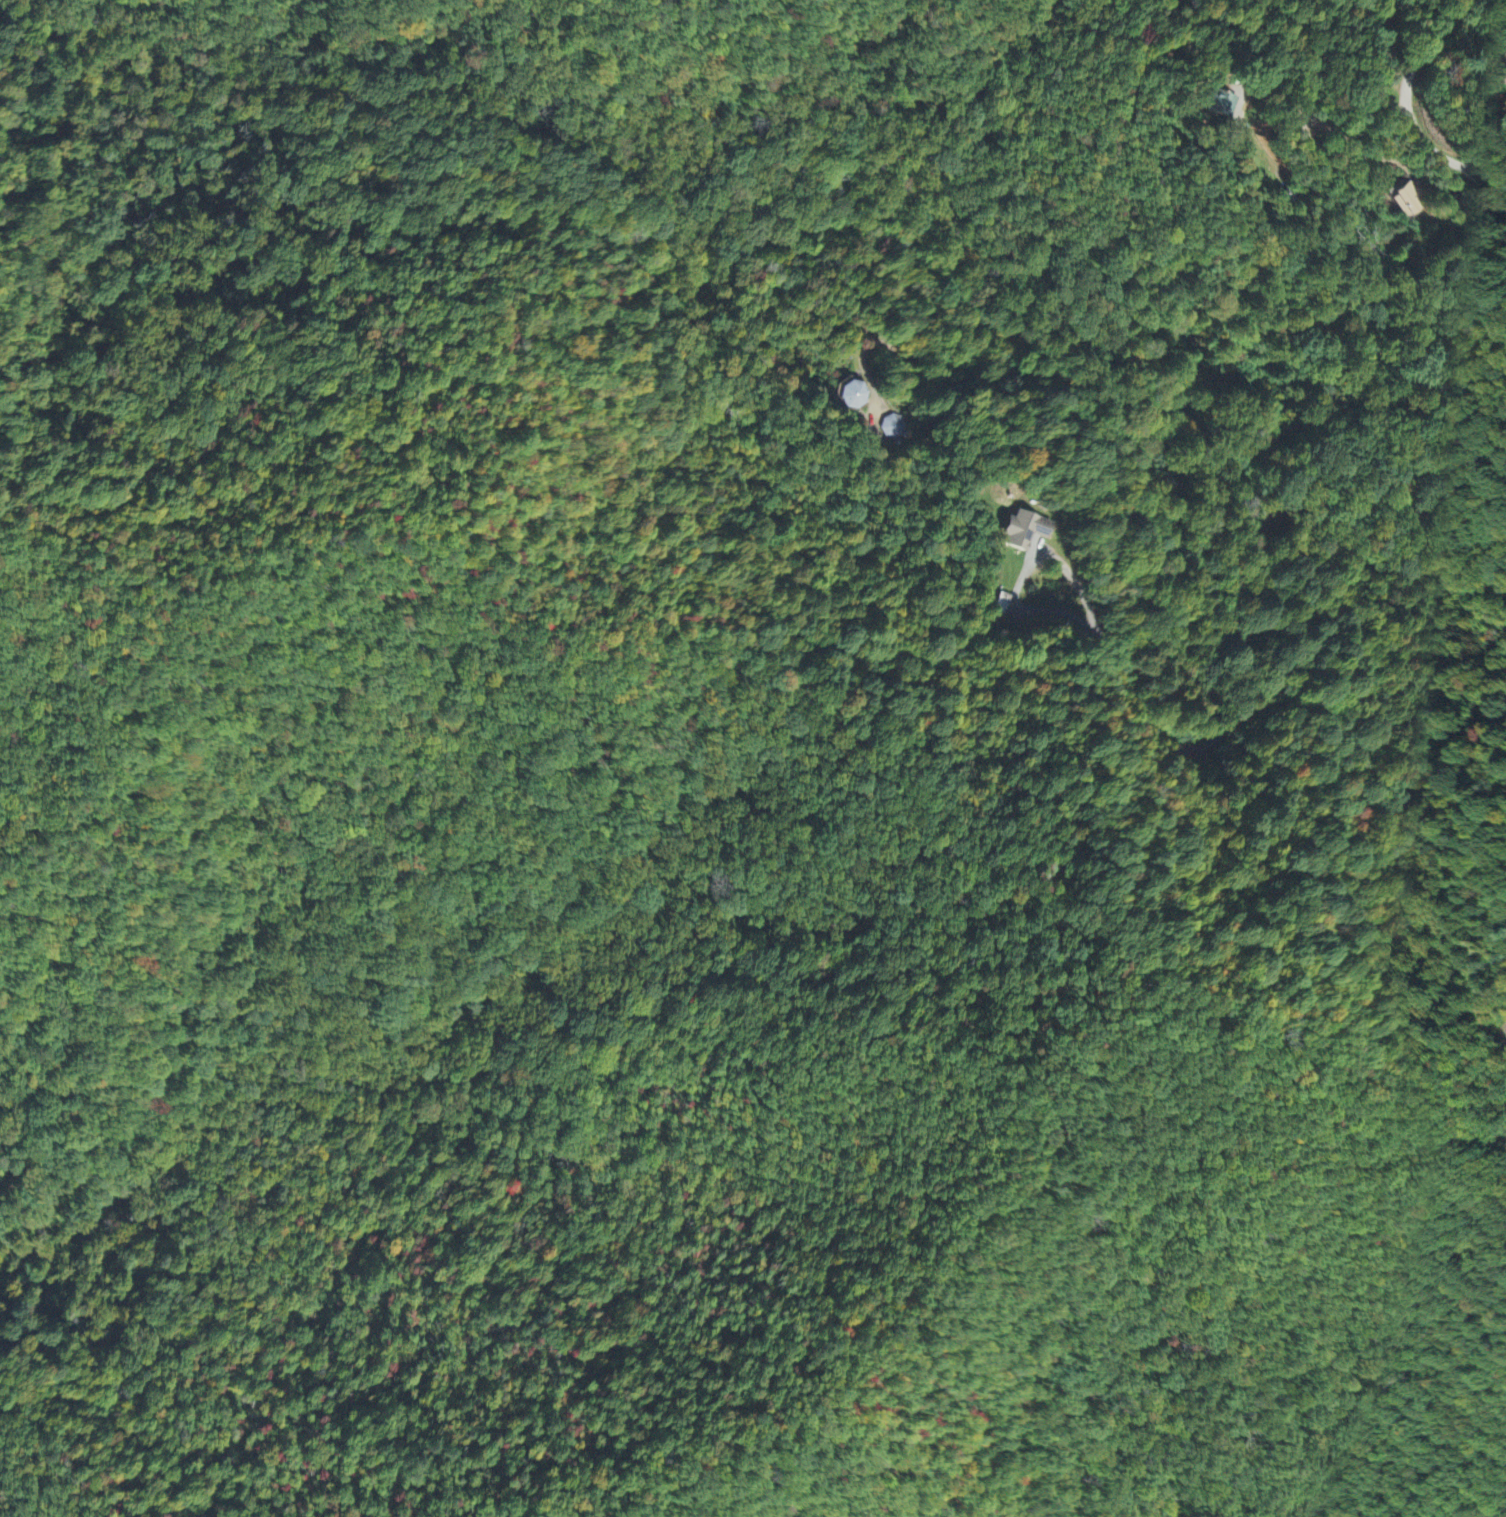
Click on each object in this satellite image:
building: (1221, 106)
road: (1410, 112)
building: (1406, 201)
building: (851, 395)
road: (1157, 444)
building: (1021, 532)

